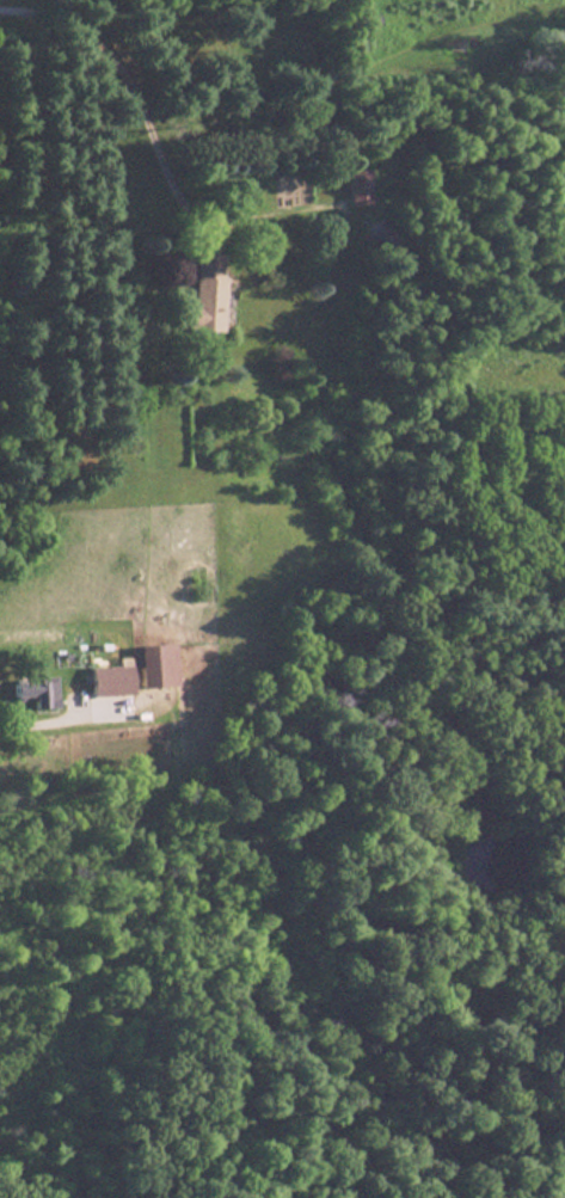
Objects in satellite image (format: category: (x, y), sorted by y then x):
road: (10, 4)
building: (354, 186)
building: (385, 247)
building: (199, 291)
building: (130, 671)
building: (20, 692)
road: (53, 717)

